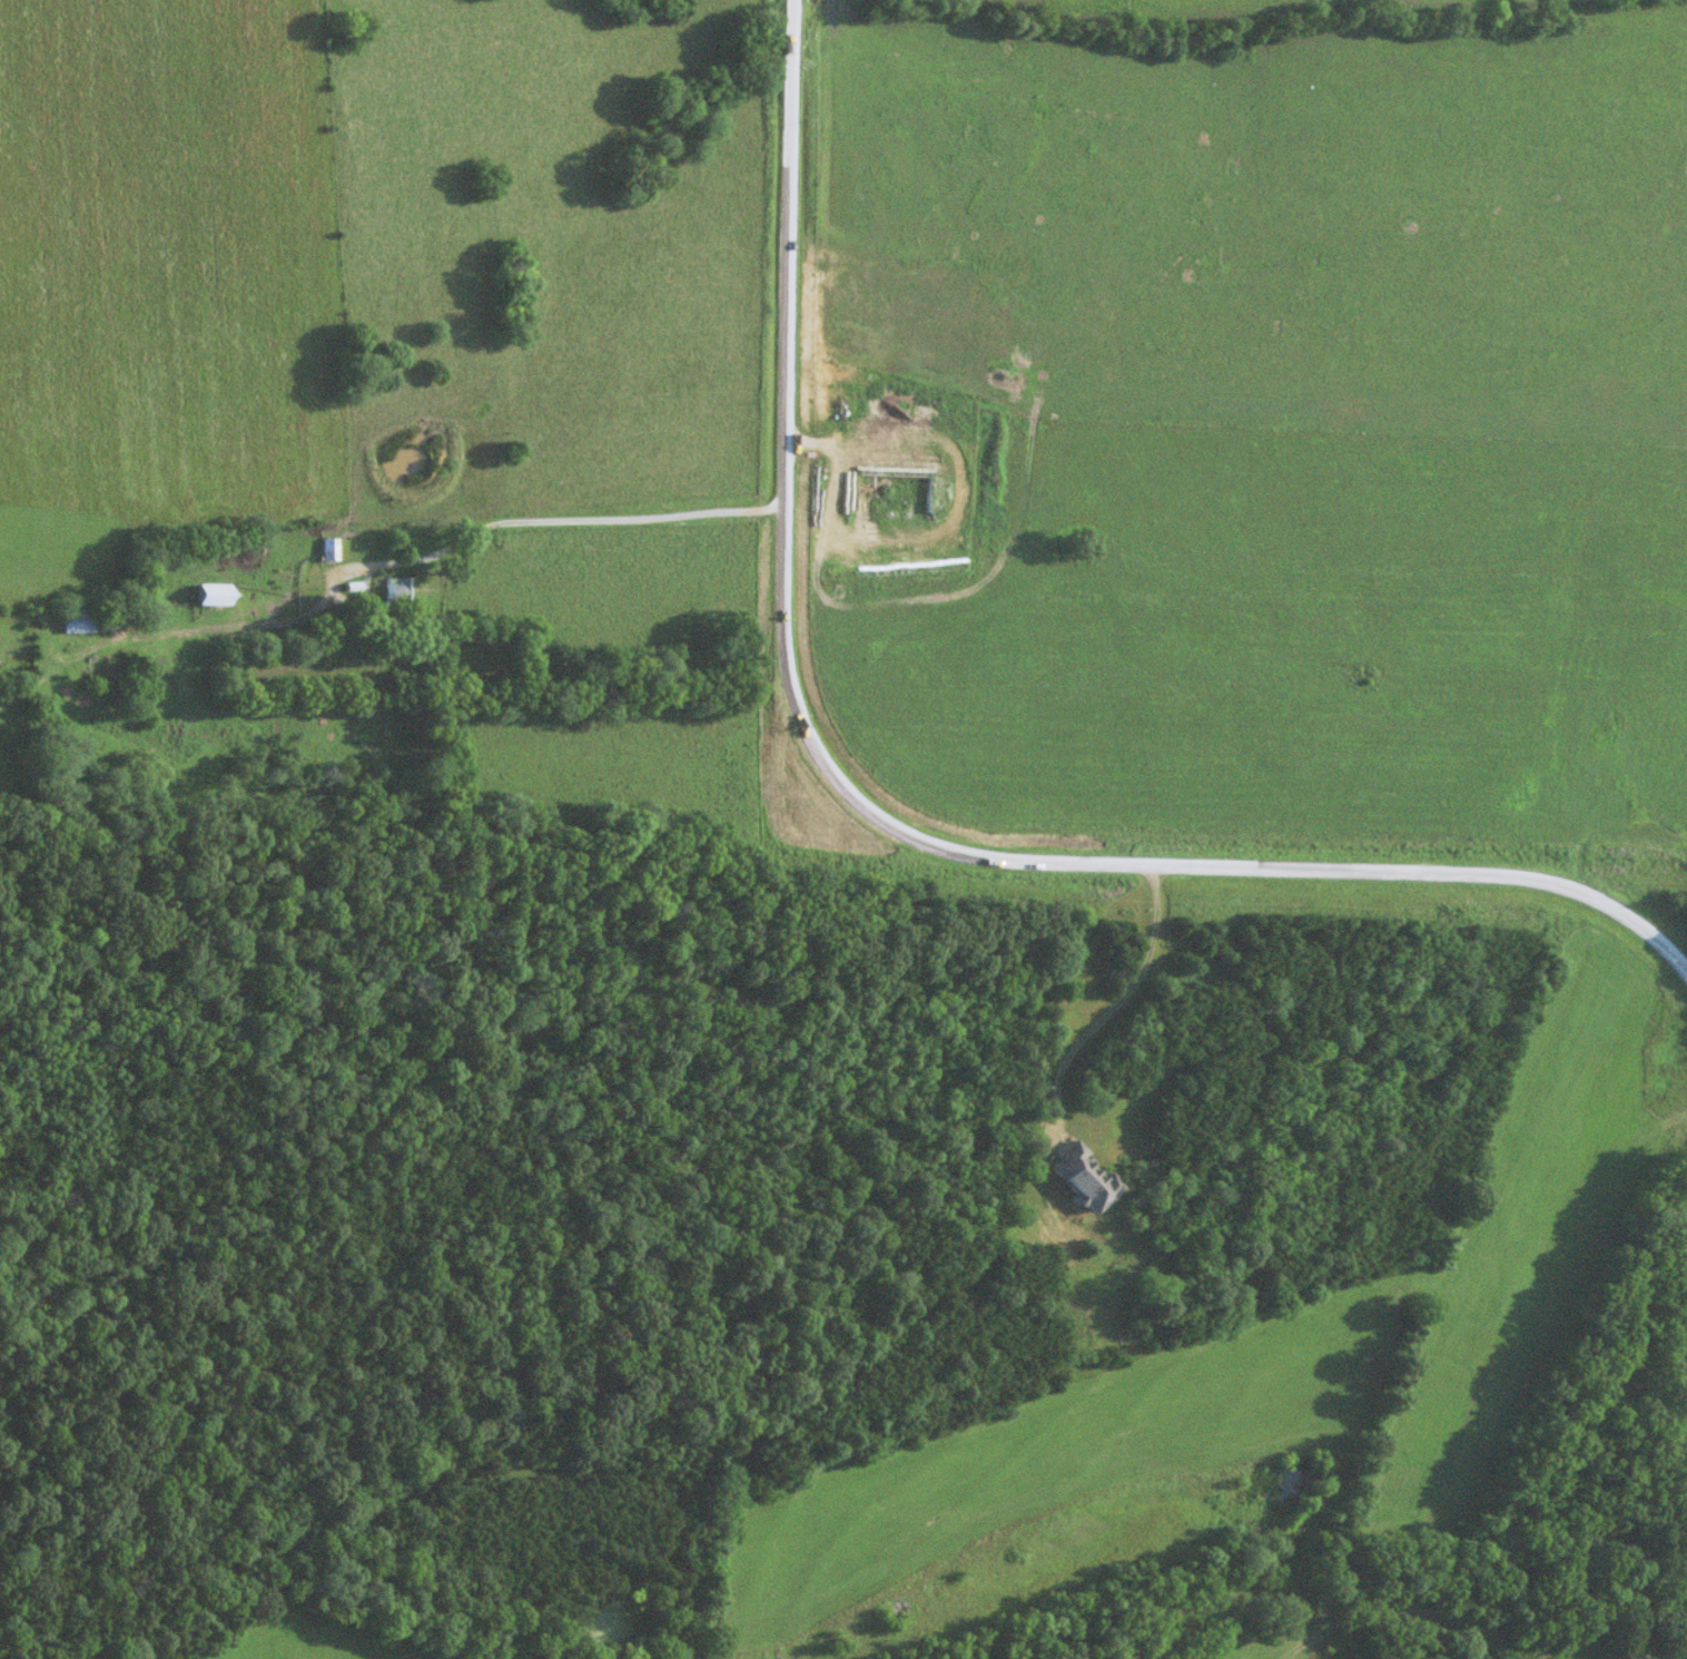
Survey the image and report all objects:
road: (563, 517)
building: (331, 551)
building: (398, 591)
building: (210, 596)
building: (77, 622)
road: (886, 809)
road: (1115, 1009)
building: (1082, 1178)
road: (1421, 1608)
road: (1674, 1653)

